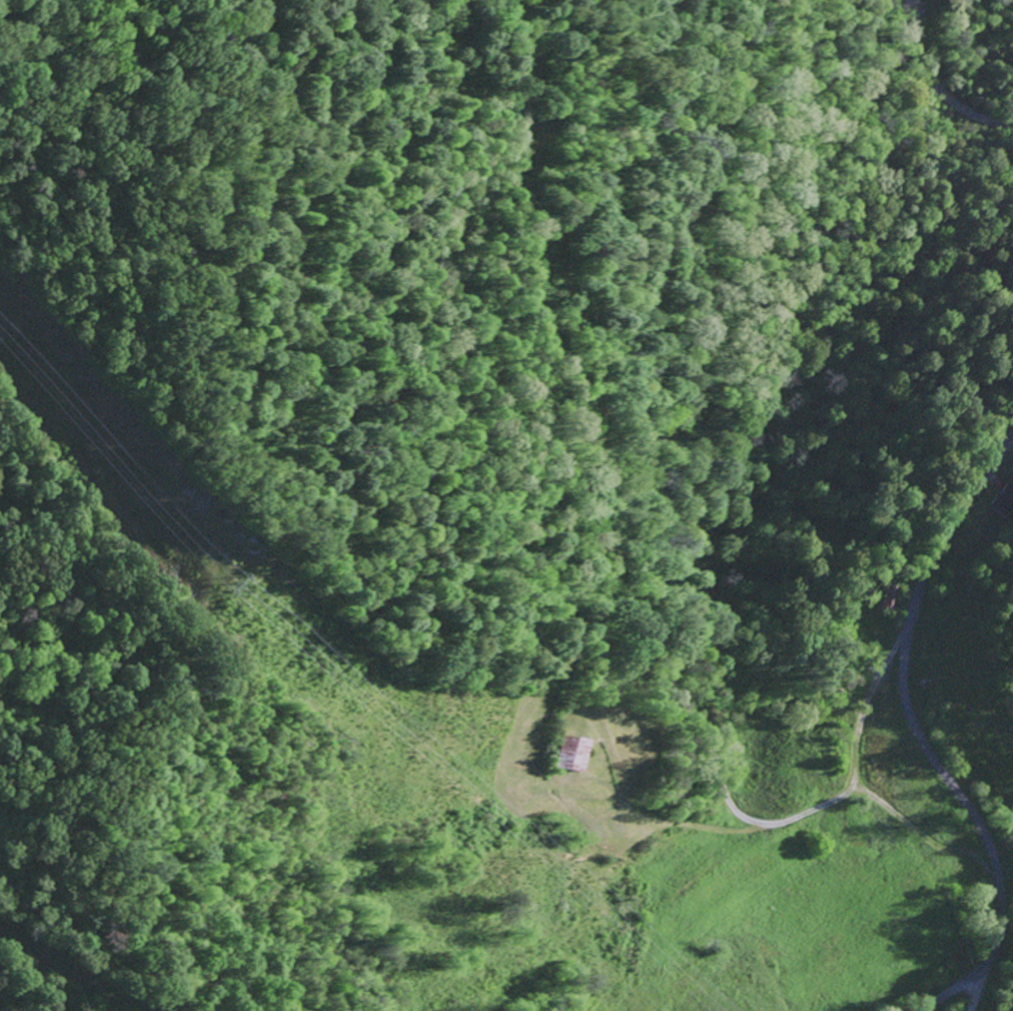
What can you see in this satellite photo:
road: (937, 81)
building: (1003, 500)
road: (596, 560)
power tower: (259, 586)
road: (904, 693)
building: (573, 753)
road: (976, 985)
road: (952, 988)

